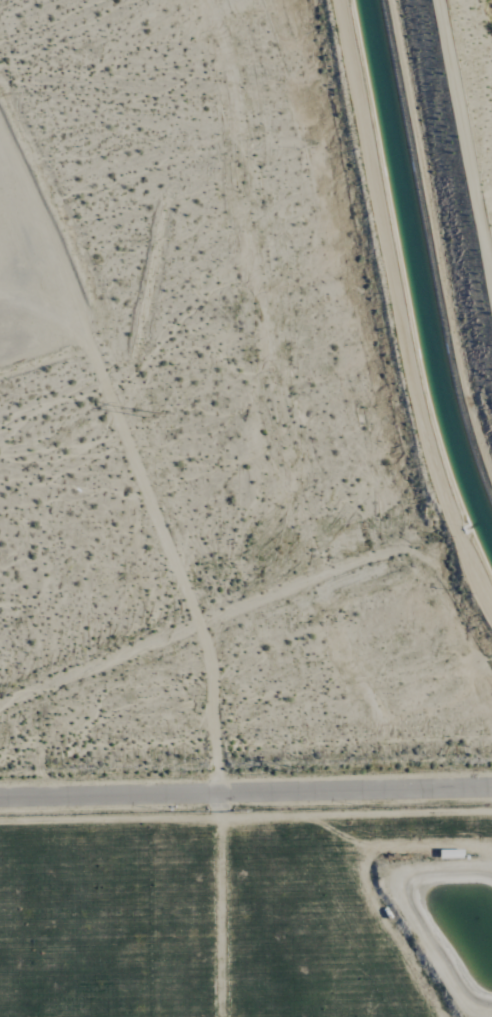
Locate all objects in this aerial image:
parking lot: (23, 239)
road: (399, 305)
road: (36, 318)
power tower: (151, 414)
road: (152, 507)
road: (216, 618)
power tower: (292, 767)
road: (246, 793)

